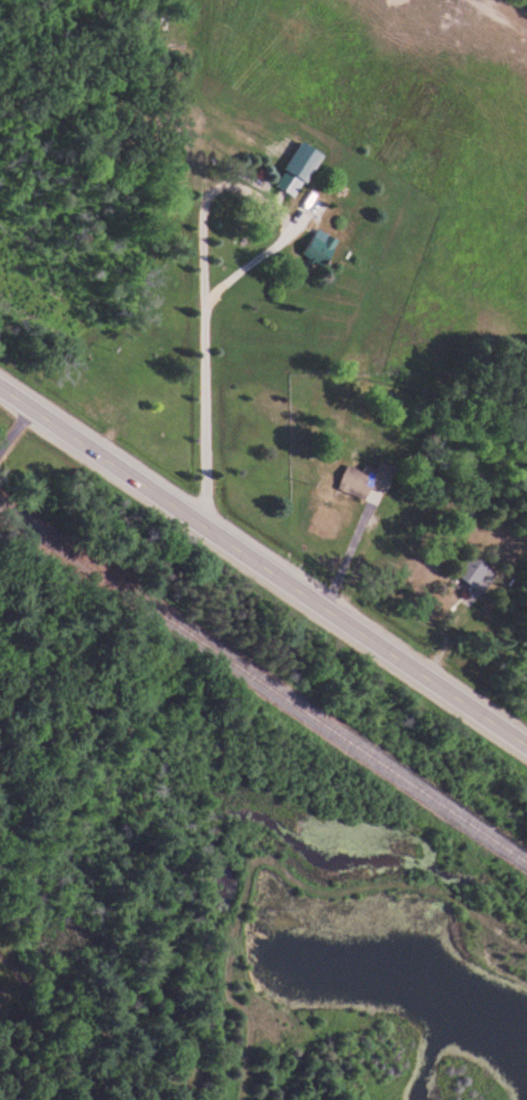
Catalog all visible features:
building: (301, 171)
building: (315, 207)
building: (323, 247)
building: (365, 482)
road: (263, 567)
building: (478, 574)
railway: (263, 683)

